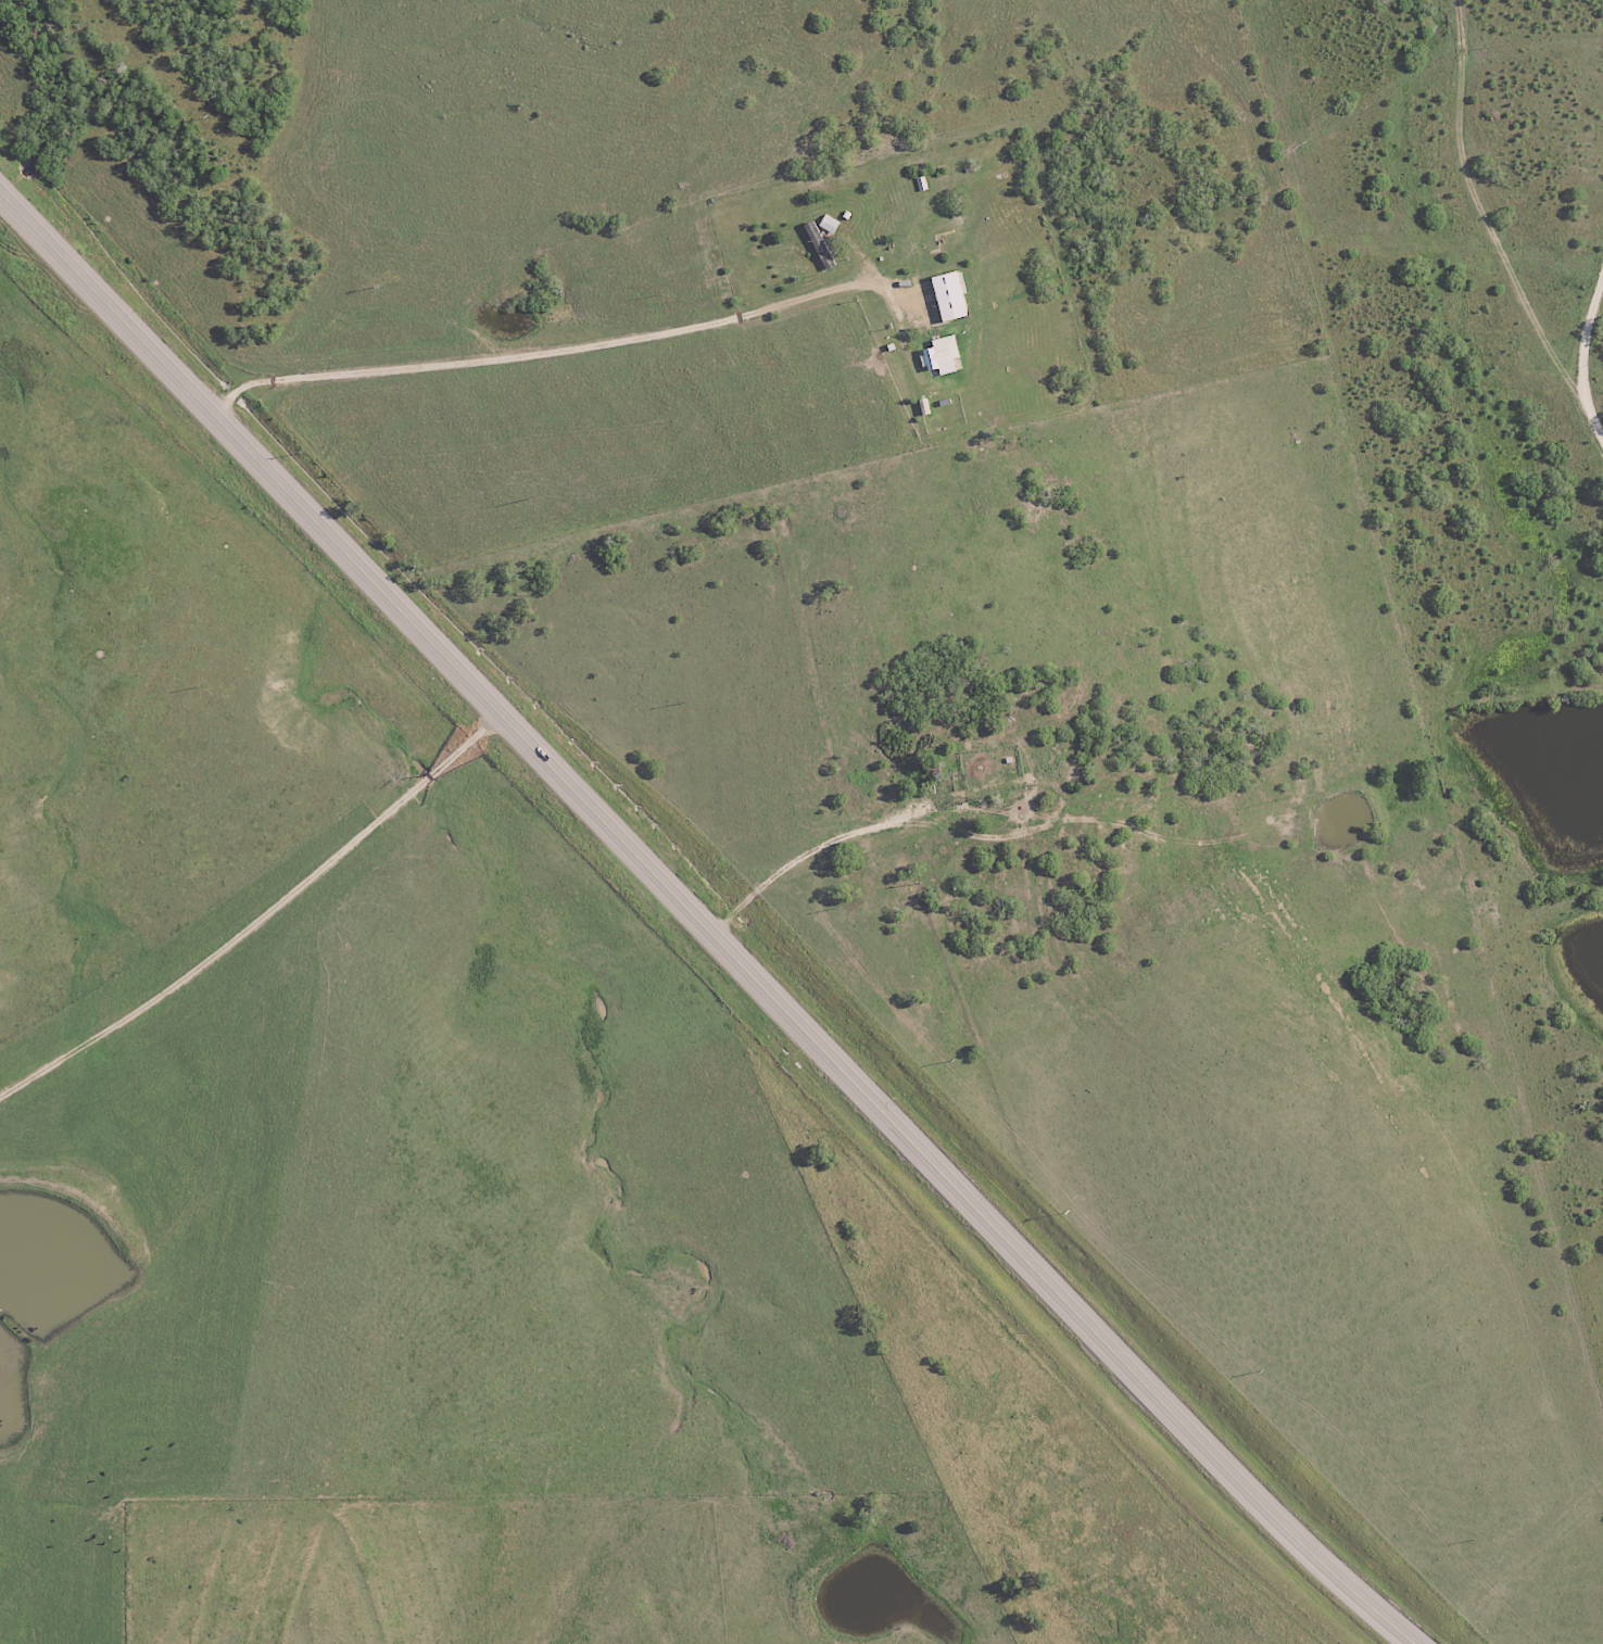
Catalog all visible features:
building: (828, 225)
building: (948, 298)
building: (941, 356)
road: (691, 924)
road: (275, 965)

